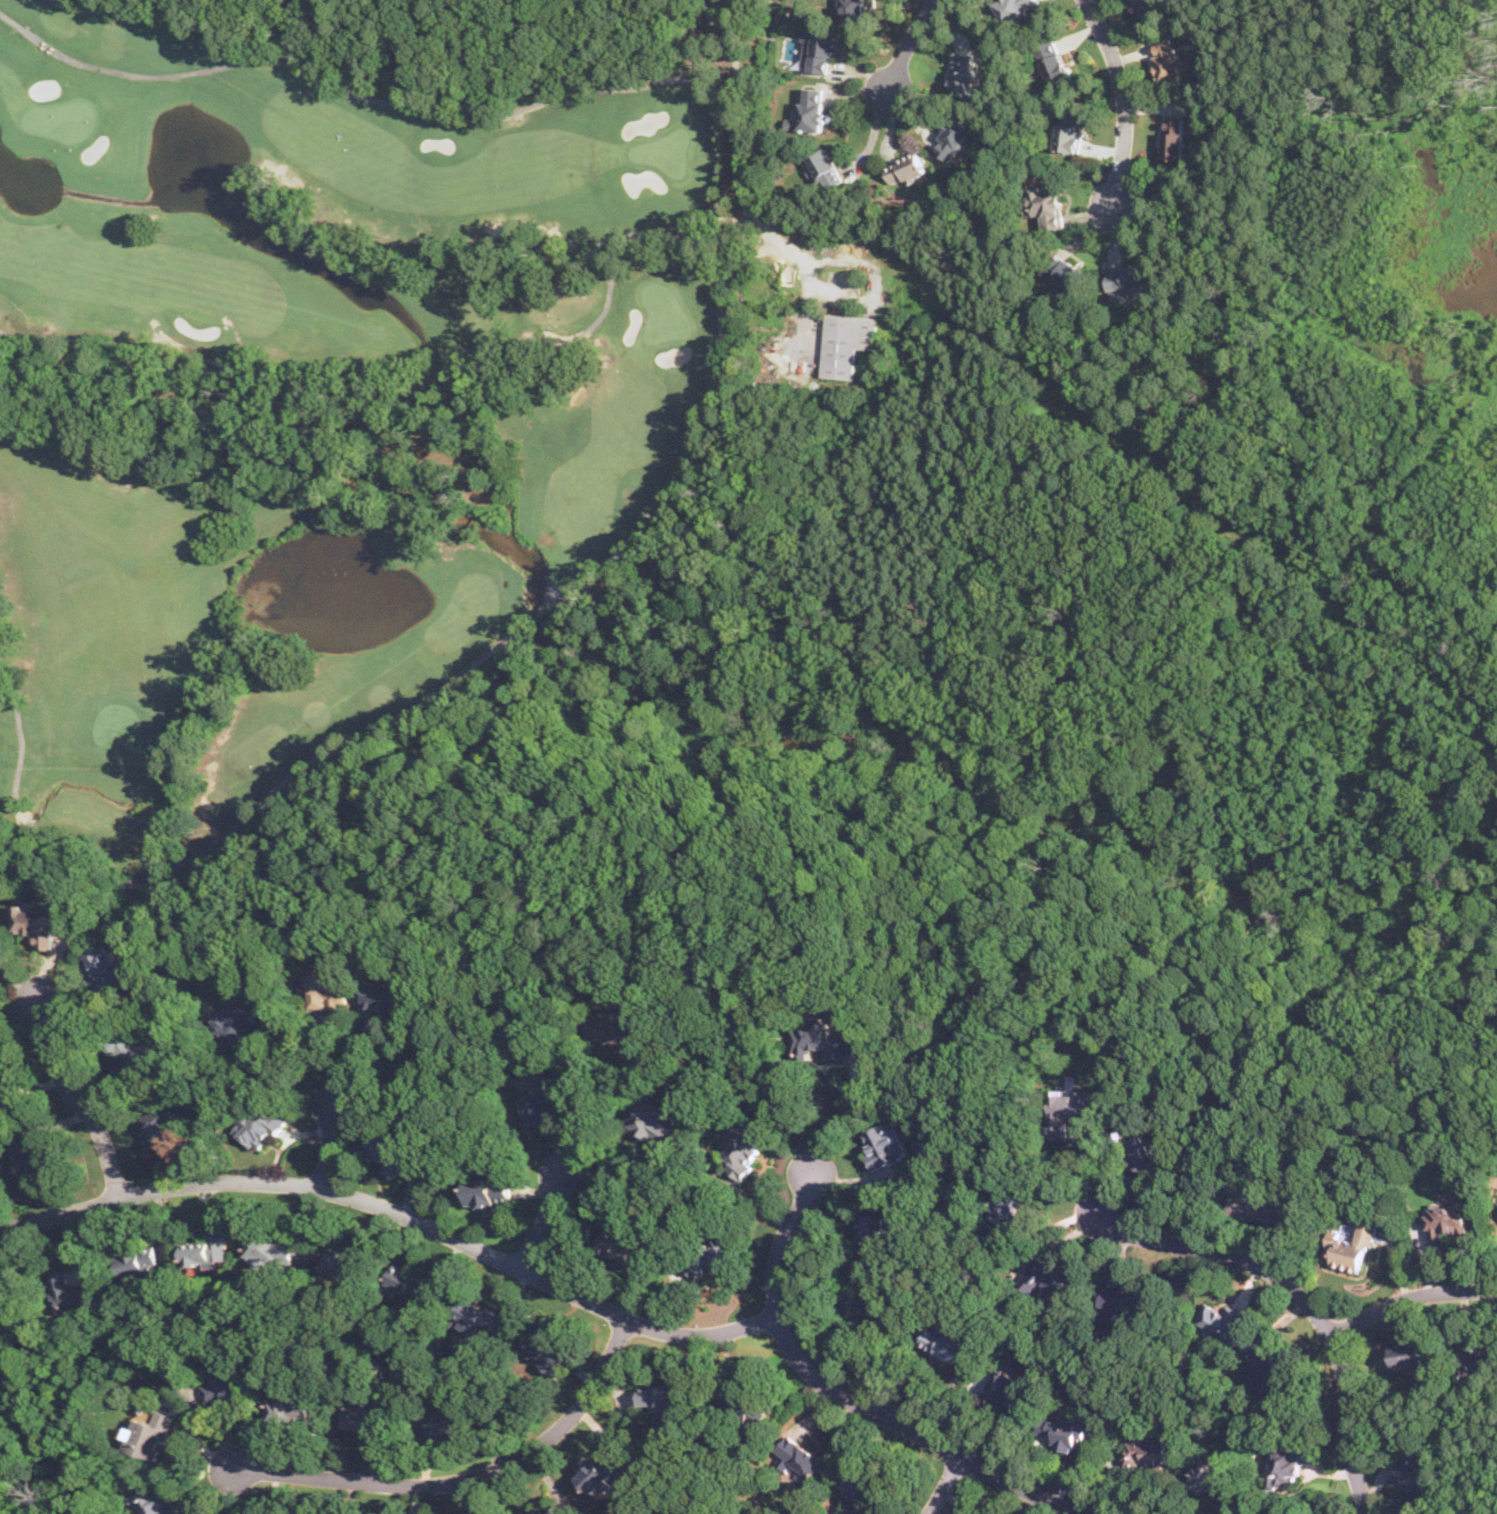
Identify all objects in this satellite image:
building: (1148, 7)
building: (1017, 8)
building: (854, 11)
road: (668, 14)
road: (908, 46)
building: (819, 49)
building: (1167, 60)
building: (1054, 61)
building: (964, 74)
road: (1124, 100)
building: (812, 108)
building: (1070, 132)
building: (1174, 137)
building: (955, 139)
road: (734, 167)
building: (904, 167)
building: (826, 168)
building: (1046, 204)
building: (1064, 271)
building: (1129, 279)
building: (846, 343)
park: (330, 378)
river: (835, 743)
road: (345, 806)
road: (997, 811)
road: (677, 823)
road: (146, 884)
road: (689, 891)
park: (889, 894)
building: (42, 922)
road: (581, 938)
road: (1429, 939)
road: (1306, 954)
building: (106, 964)
road: (1005, 985)
building: (332, 988)
building: (387, 997)
building: (238, 1026)
building: (618, 1030)
building: (821, 1038)
building: (139, 1051)
building: (403, 1064)
road: (294, 1075)
building: (1, 1085)
road: (77, 1099)
building: (549, 1100)
road: (596, 1103)
building: (1071, 1108)
road: (839, 1117)
building: (165, 1122)
building: (652, 1122)
building: (260, 1124)
road: (331, 1143)
building: (885, 1145)
building: (388, 1151)
building: (744, 1151)
building: (1145, 1155)
building: (34, 1157)
road: (626, 1158)
building: (490, 1190)
building: (1496, 1202)
building: (1011, 1204)
building: (1261, 1205)
road: (396, 1213)
road: (544, 1216)
building: (1448, 1218)
road: (1049, 1232)
building: (875, 1233)
building: (624, 1242)
road: (1054, 1243)
building: (1351, 1247)
building: (272, 1248)
building: (209, 1249)
building: (712, 1256)
building: (141, 1263)
building: (349, 1266)
building: (1049, 1277)
building: (410, 1281)
building: (70, 1293)
road: (1408, 1296)
road: (1305, 1299)
building: (1124, 1302)
building: (868, 1303)
building: (480, 1316)
building: (1217, 1321)
building: (945, 1342)
building: (548, 1349)
building: (1406, 1355)
building: (1474, 1358)
building: (1267, 1369)
road: (904, 1375)
building: (228, 1387)
building: (1007, 1389)
road: (846, 1394)
building: (663, 1398)
building: (742, 1407)
building: (291, 1410)
building: (368, 1419)
road: (986, 1420)
building: (451, 1421)
building: (1063, 1431)
building: (149, 1435)
building: (1144, 1450)
building: (798, 1460)
building: (1286, 1464)
building: (1417, 1468)
building: (600, 1469)
building: (1210, 1475)
road: (464, 1480)
road: (943, 1485)
building: (859, 1489)
road: (1234, 1498)
building: (159, 1499)
building: (544, 1509)

